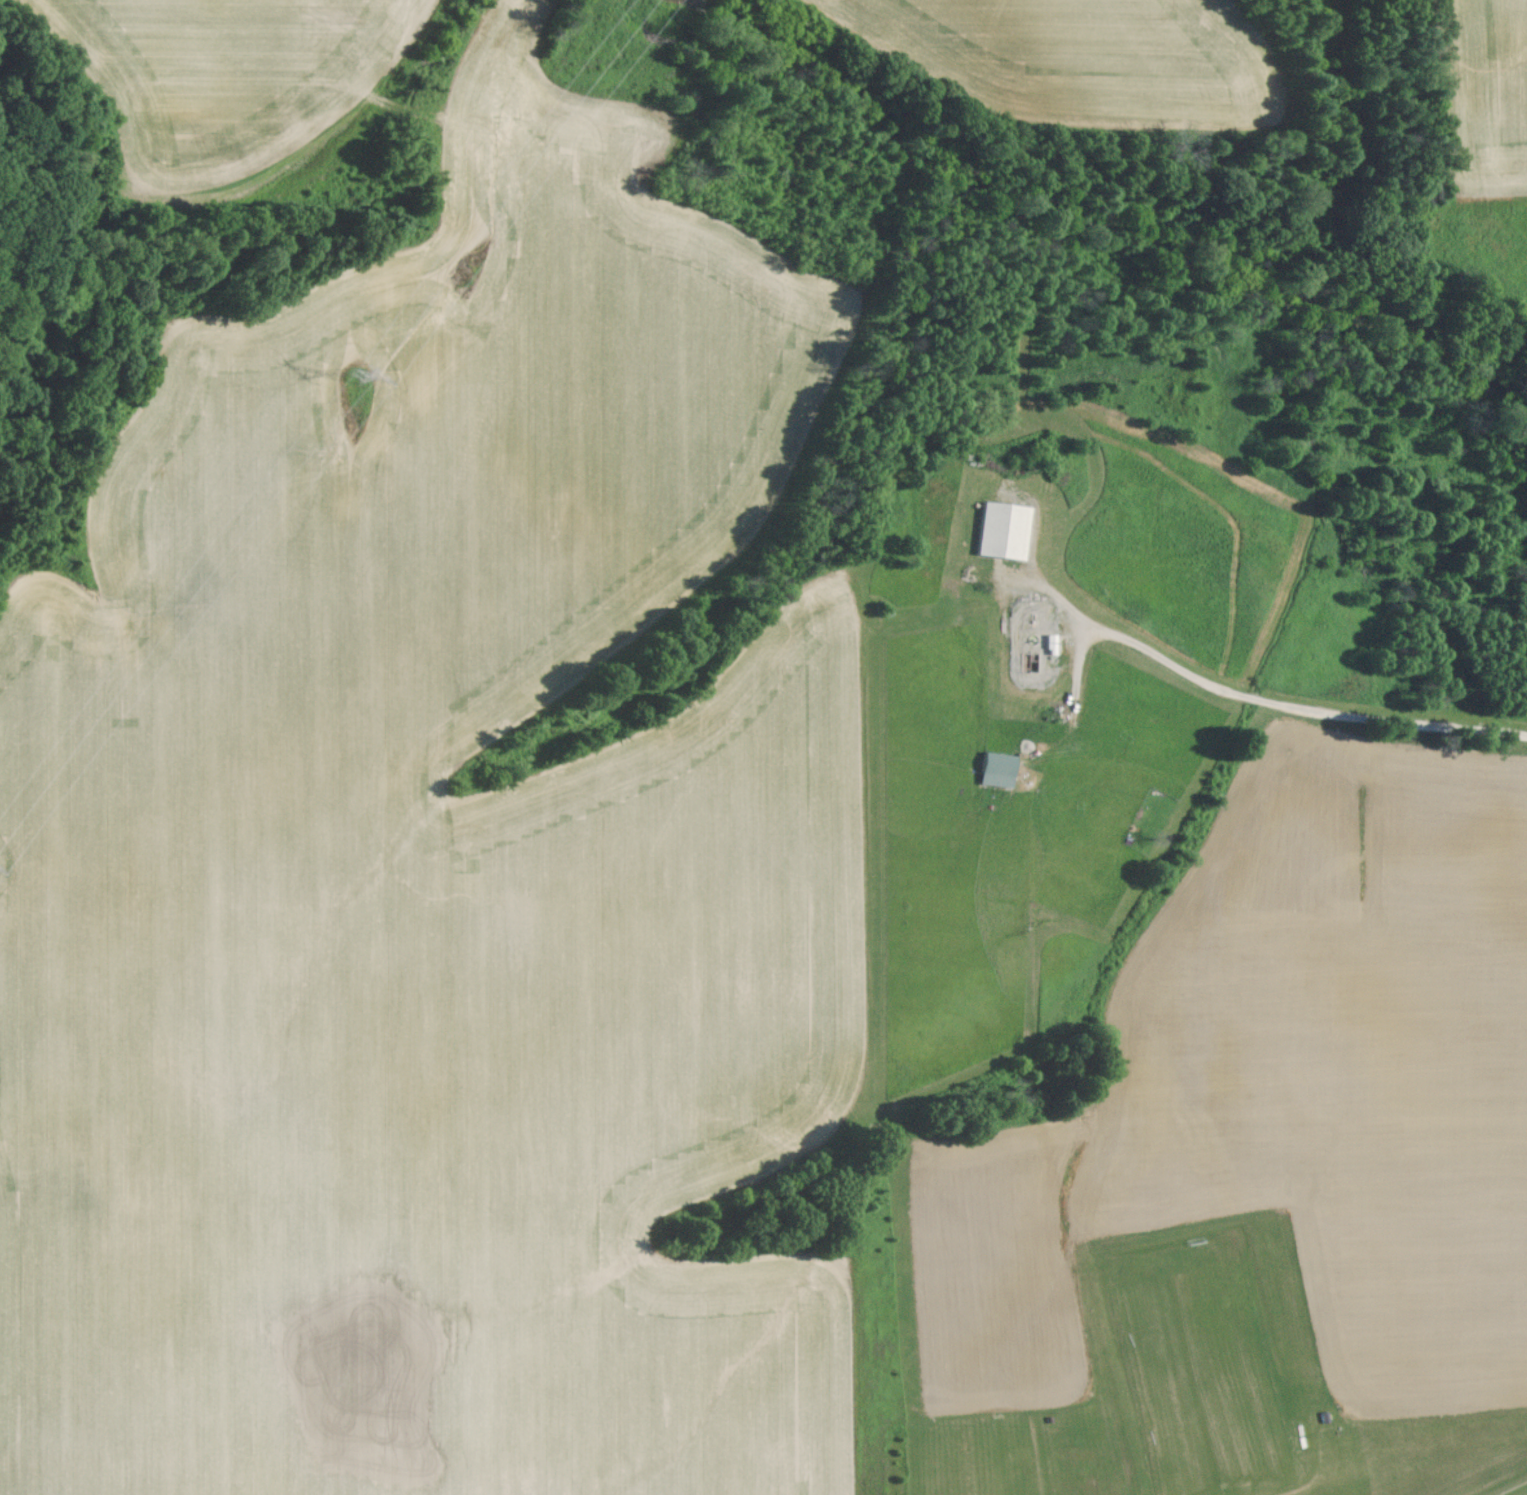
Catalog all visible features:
power tower: (352, 376)
building: (1001, 530)
building: (994, 768)
park: (1205, 1375)
park: (957, 1470)

